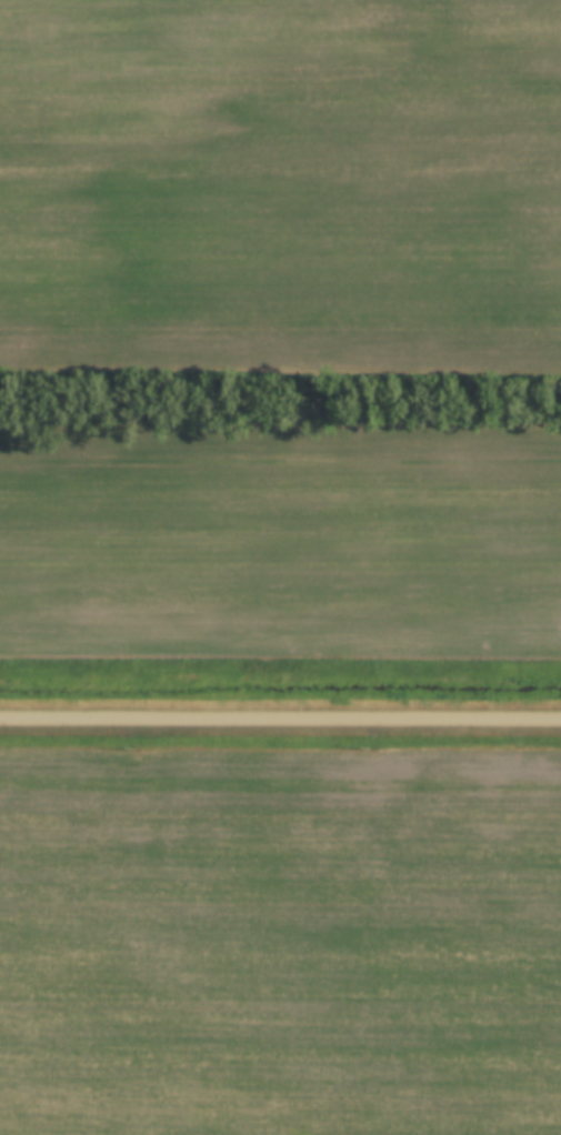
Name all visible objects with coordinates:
road: (280, 719)

